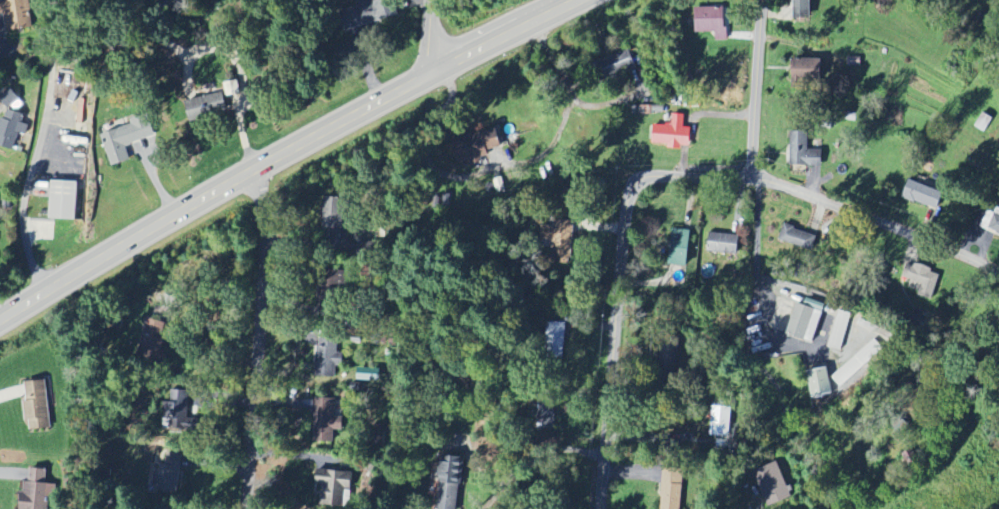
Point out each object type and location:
building: (802, 11)
building: (365, 12)
building: (16, 14)
building: (711, 21)
road: (430, 36)
building: (615, 64)
building: (805, 71)
road: (746, 90)
road: (614, 101)
building: (204, 107)
building: (11, 125)
building: (673, 133)
building: (127, 138)
road: (39, 146)
road: (286, 149)
building: (804, 151)
road: (504, 166)
building: (499, 184)
building: (923, 194)
building: (63, 199)
building: (335, 211)
road: (872, 221)
building: (995, 223)
road: (747, 224)
building: (798, 237)
building: (562, 240)
building: (723, 243)
building: (679, 247)
building: (921, 279)
road: (613, 284)
building: (327, 294)
building: (805, 322)
building: (839, 330)
road: (245, 337)
building: (556, 338)
building: (328, 356)
building: (857, 362)
building: (369, 373)
building: (820, 382)
building: (37, 405)
building: (176, 407)
building: (326, 415)
building: (545, 417)
building: (721, 421)
road: (519, 470)
building: (169, 473)
building: (450, 484)
building: (771, 485)
building: (333, 487)
building: (672, 489)
building: (38, 491)
road: (751, 502)

